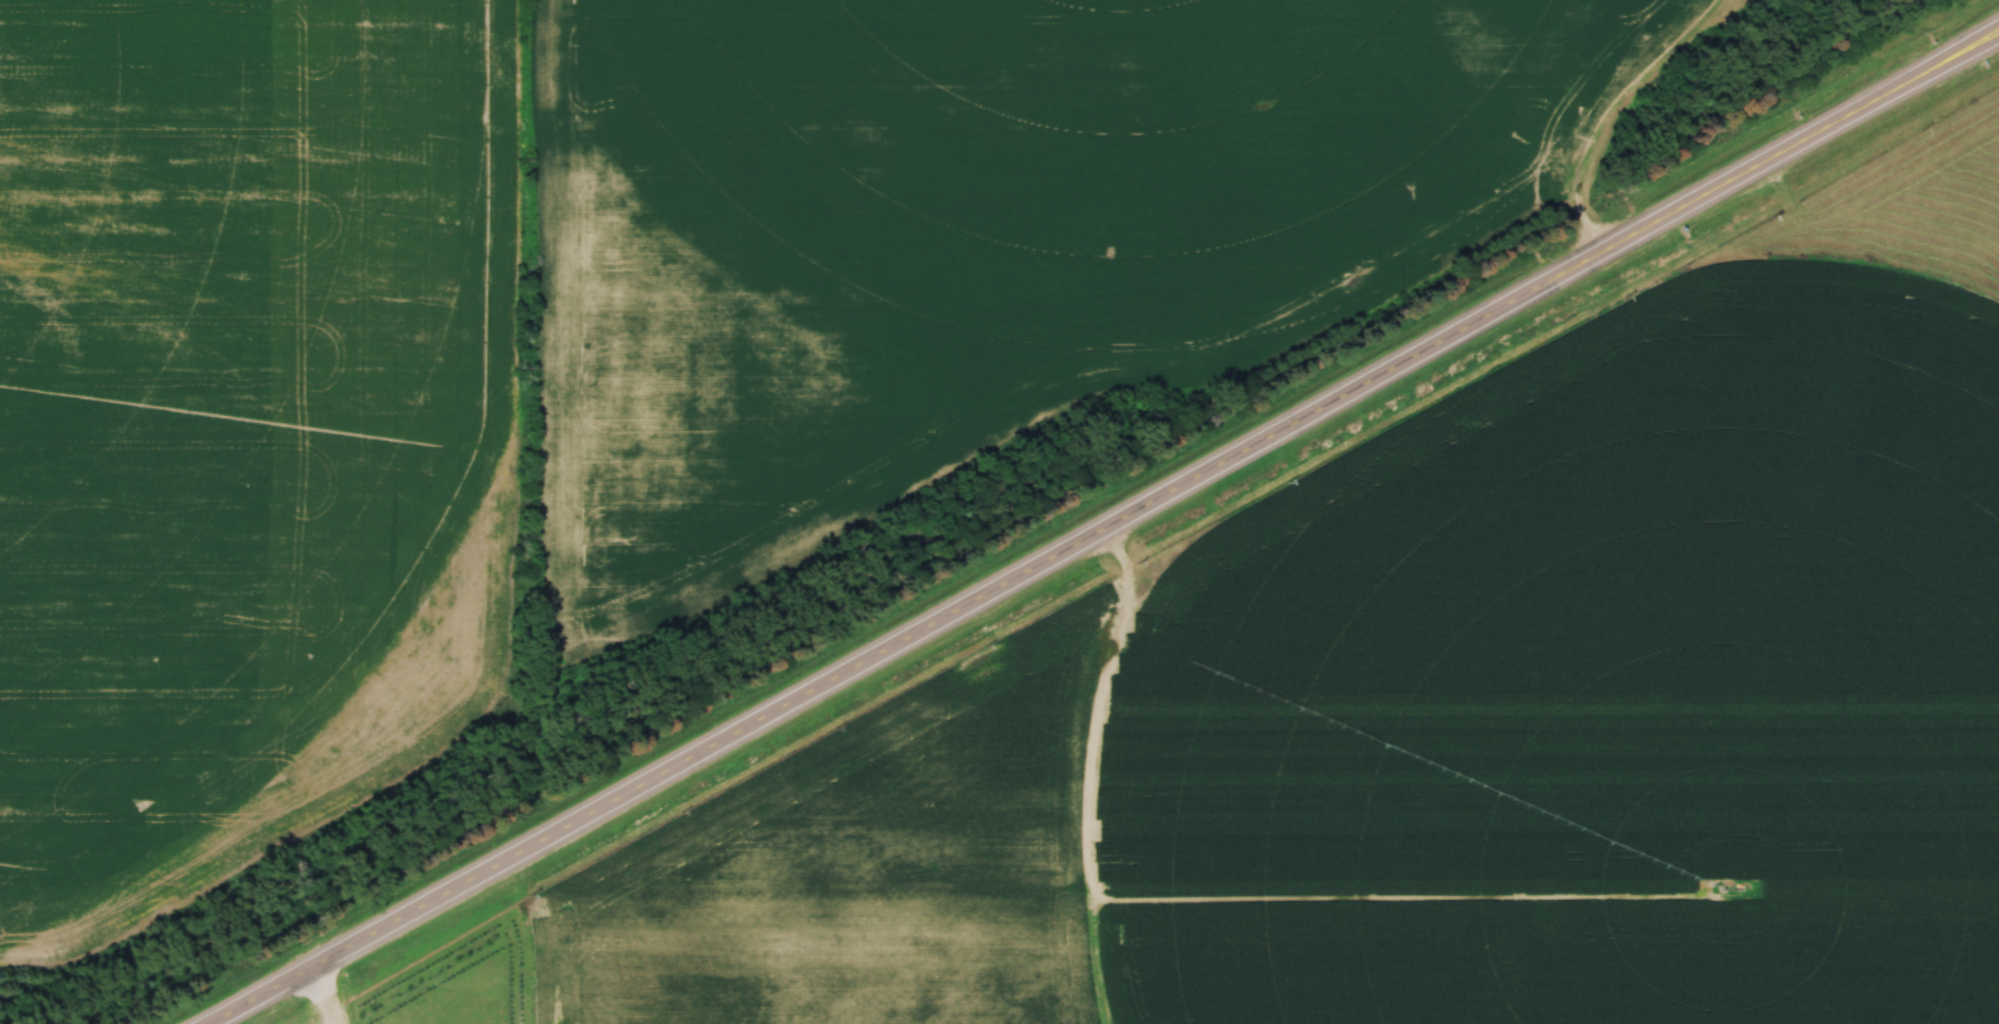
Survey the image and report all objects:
road: (1108, 532)
road: (325, 995)

